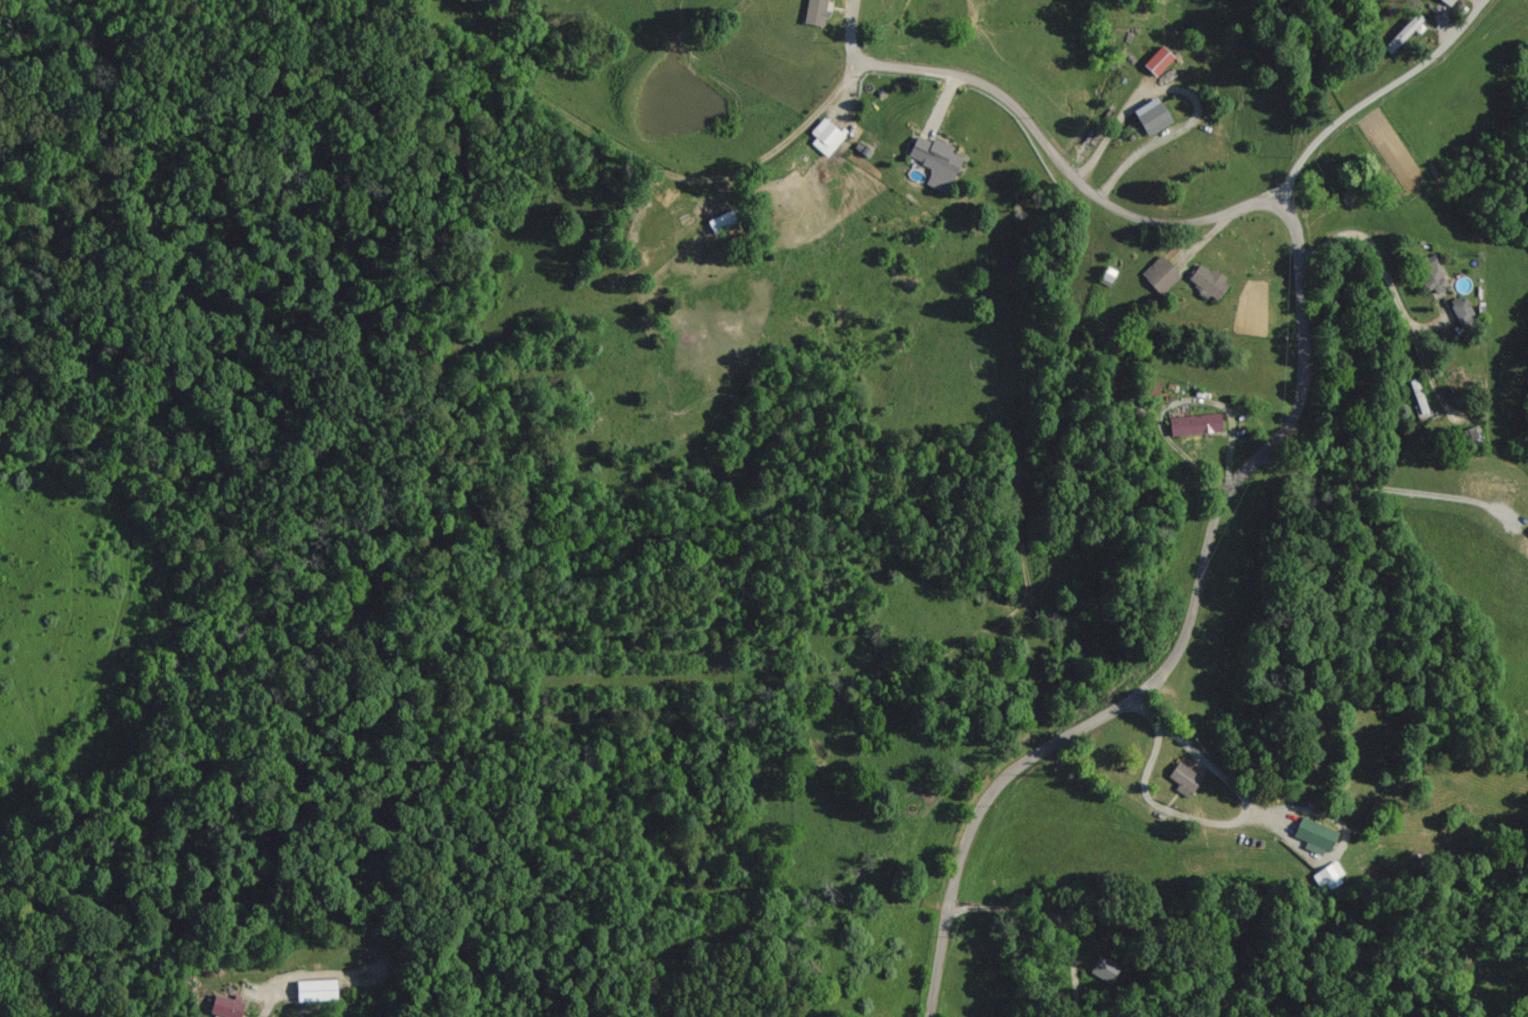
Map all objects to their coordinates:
building: (1447, 2)
building: (813, 12)
building: (1156, 60)
road: (1374, 92)
building: (1151, 115)
building: (824, 136)
building: (934, 158)
road: (1058, 162)
building: (722, 220)
building: (1432, 273)
building: (1107, 274)
building: (1159, 274)
road: (1378, 274)
building: (1207, 281)
building: (1460, 309)
building: (1150, 388)
building: (1194, 424)
road: (1179, 638)
building: (1184, 775)
building: (1313, 834)
building: (1327, 875)
building: (1104, 969)
building: (314, 990)
building: (225, 1005)

